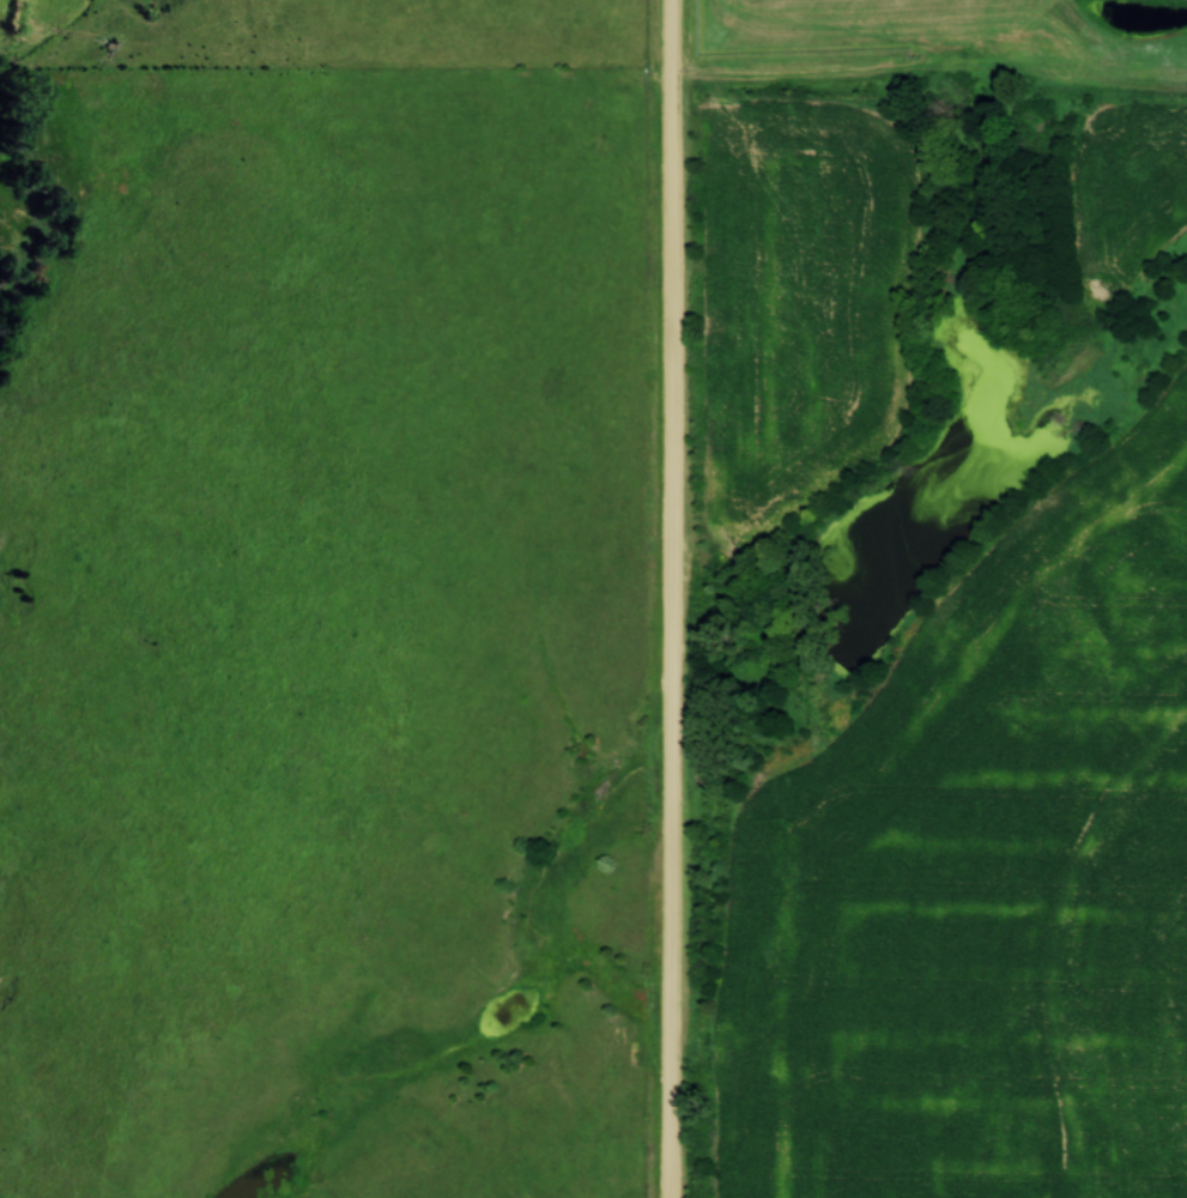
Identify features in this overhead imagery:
road: (667, 599)

